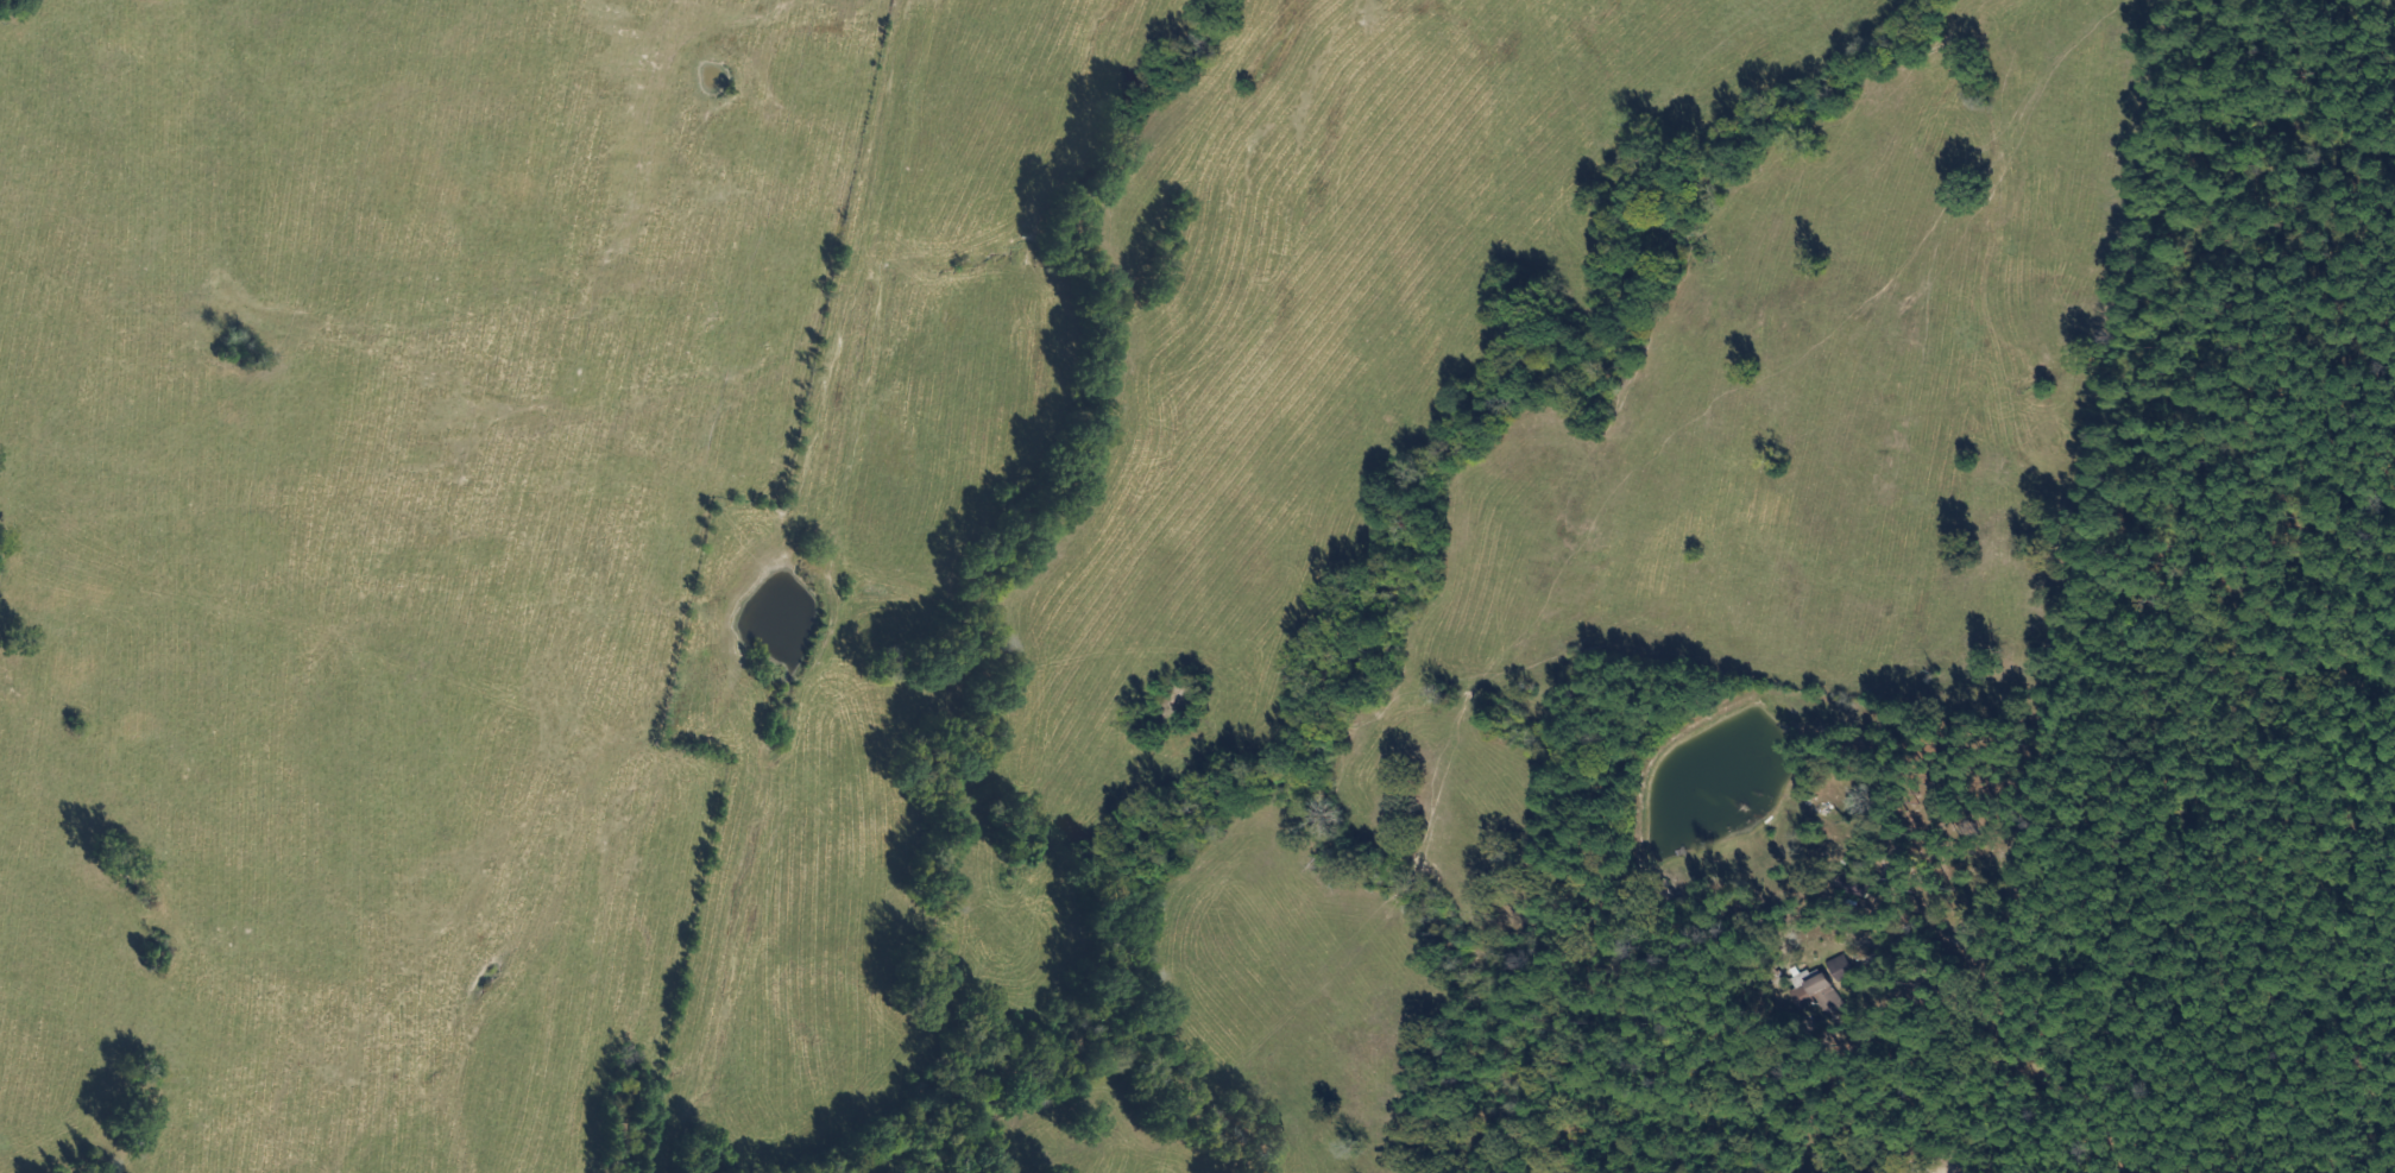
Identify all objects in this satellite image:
road: (1859, 486)
road: (2053, 531)
road: (2191, 866)
building: (1834, 971)
building: (1805, 990)

